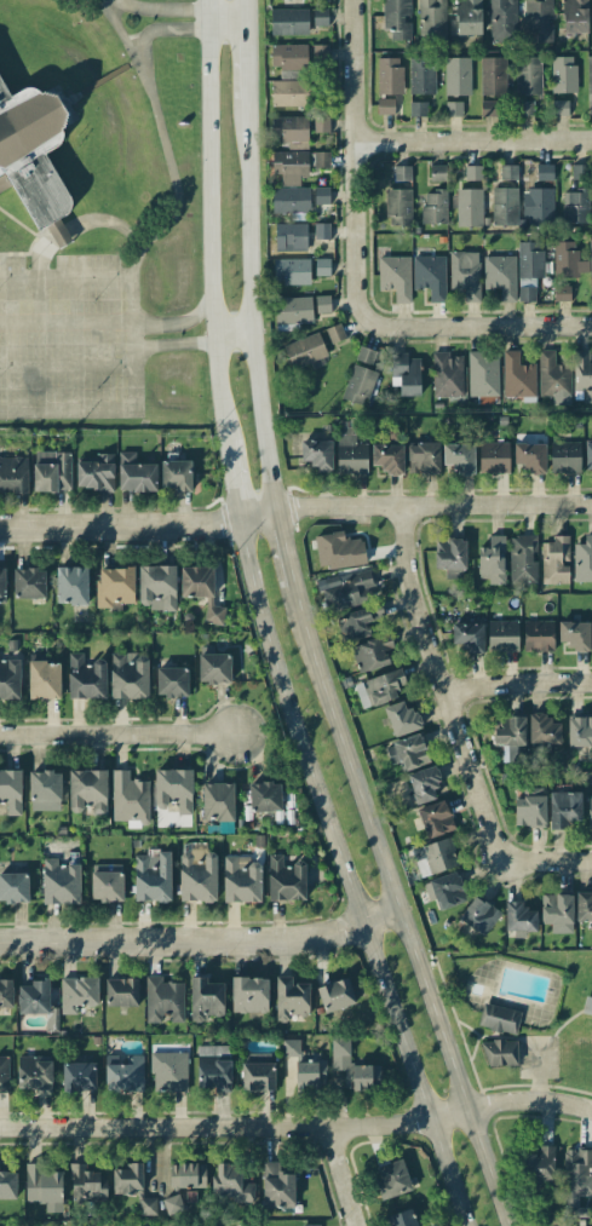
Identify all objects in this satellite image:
road: (172, 10)
road: (246, 15)
building: (574, 16)
building: (320, 17)
building: (469, 17)
building: (397, 18)
building: (431, 19)
building: (288, 21)
building: (536, 22)
road: (182, 31)
building: (320, 51)
building: (289, 59)
road: (246, 68)
building: (563, 74)
building: (389, 75)
building: (421, 75)
building: (456, 75)
building: (493, 75)
building: (528, 75)
road: (103, 81)
building: (588, 84)
building: (288, 92)
building: (385, 105)
building: (524, 107)
building: (559, 107)
building: (453, 108)
building: (418, 109)
building: (488, 109)
building: (321, 123)
building: (288, 127)
road: (473, 138)
building: (33, 151)
road: (356, 161)
building: (297, 165)
road: (208, 166)
building: (402, 172)
building: (437, 172)
building: (473, 172)
building: (508, 172)
building: (544, 172)
building: (321, 195)
building: (289, 200)
building: (397, 206)
building: (504, 206)
building: (575, 206)
building: (433, 207)
building: (467, 207)
building: (538, 207)
building: (321, 230)
road: (68, 234)
building: (59, 235)
road: (132, 235)
building: (289, 236)
road: (151, 237)
building: (590, 258)
building: (568, 260)
building: (322, 266)
building: (528, 269)
building: (292, 270)
building: (465, 274)
building: (395, 276)
building: (430, 276)
building: (500, 276)
building: (562, 293)
building: (590, 293)
road: (48, 297)
building: (322, 304)
road: (248, 309)
building: (293, 310)
road: (176, 323)
road: (481, 324)
road: (231, 332)
building: (335, 333)
road: (172, 344)
building: (305, 350)
building: (366, 355)
building: (406, 373)
building: (482, 373)
building: (447, 374)
building: (517, 375)
building: (582, 376)
building: (553, 379)
building: (358, 384)
road: (218, 386)
building: (350, 453)
building: (317, 454)
building: (460, 455)
building: (588, 455)
building: (494, 456)
building: (530, 456)
building: (564, 456)
building: (387, 457)
building: (423, 457)
building: (51, 471)
building: (96, 473)
building: (136, 473)
building: (13, 474)
building: (176, 474)
road: (230, 479)
road: (295, 507)
road: (282, 548)
building: (338, 551)
building: (450, 557)
building: (522, 558)
building: (493, 559)
building: (582, 559)
building: (556, 560)
building: (29, 582)
building: (71, 585)
building: (1, 586)
building: (157, 586)
building: (114, 587)
building: (201, 589)
building: (347, 589)
building: (355, 623)
building: (574, 634)
building: (502, 635)
building: (538, 635)
building: (469, 637)
building: (369, 654)
building: (213, 667)
building: (128, 675)
building: (86, 677)
building: (8, 679)
building: (44, 679)
building: (171, 681)
road: (517, 683)
road: (442, 685)
building: (385, 686)
building: (402, 718)
building: (542, 729)
building: (508, 731)
building: (579, 731)
road: (117, 732)
building: (407, 752)
building: (424, 783)
building: (173, 789)
building: (11, 790)
building: (44, 790)
building: (87, 790)
building: (265, 796)
building: (128, 798)
building: (218, 804)
building: (530, 807)
building: (564, 808)
building: (590, 812)
building: (436, 818)
building: (439, 856)
road: (546, 862)
road: (344, 874)
building: (153, 876)
building: (197, 877)
building: (286, 877)
building: (241, 879)
building: (61, 880)
building: (107, 882)
building: (13, 887)
building: (448, 891)
road: (395, 905)
building: (584, 906)
building: (556, 908)
building: (479, 915)
building: (519, 919)
road: (200, 940)
building: (122, 991)
building: (6, 992)
building: (77, 992)
building: (249, 994)
building: (335, 995)
building: (34, 997)
building: (291, 997)
building: (206, 998)
building: (163, 1000)
building: (498, 1018)
building: (291, 1047)
building: (500, 1052)
building: (213, 1066)
building: (354, 1067)
building: (169, 1071)
building: (257, 1071)
building: (123, 1072)
building: (4, 1074)
building: (34, 1074)
building: (289, 1075)
building: (310, 1075)
building: (79, 1076)
road: (298, 1127)
building: (539, 1165)
building: (186, 1175)
road: (339, 1176)
building: (392, 1179)
building: (576, 1179)
building: (87, 1182)
building: (231, 1182)
building: (7, 1185)
building: (44, 1186)
building: (133, 1186)
building: (277, 1186)
building: (172, 1204)
building: (402, 1219)
building: (4, 1225)
building: (121, 1225)
building: (310, 1225)

